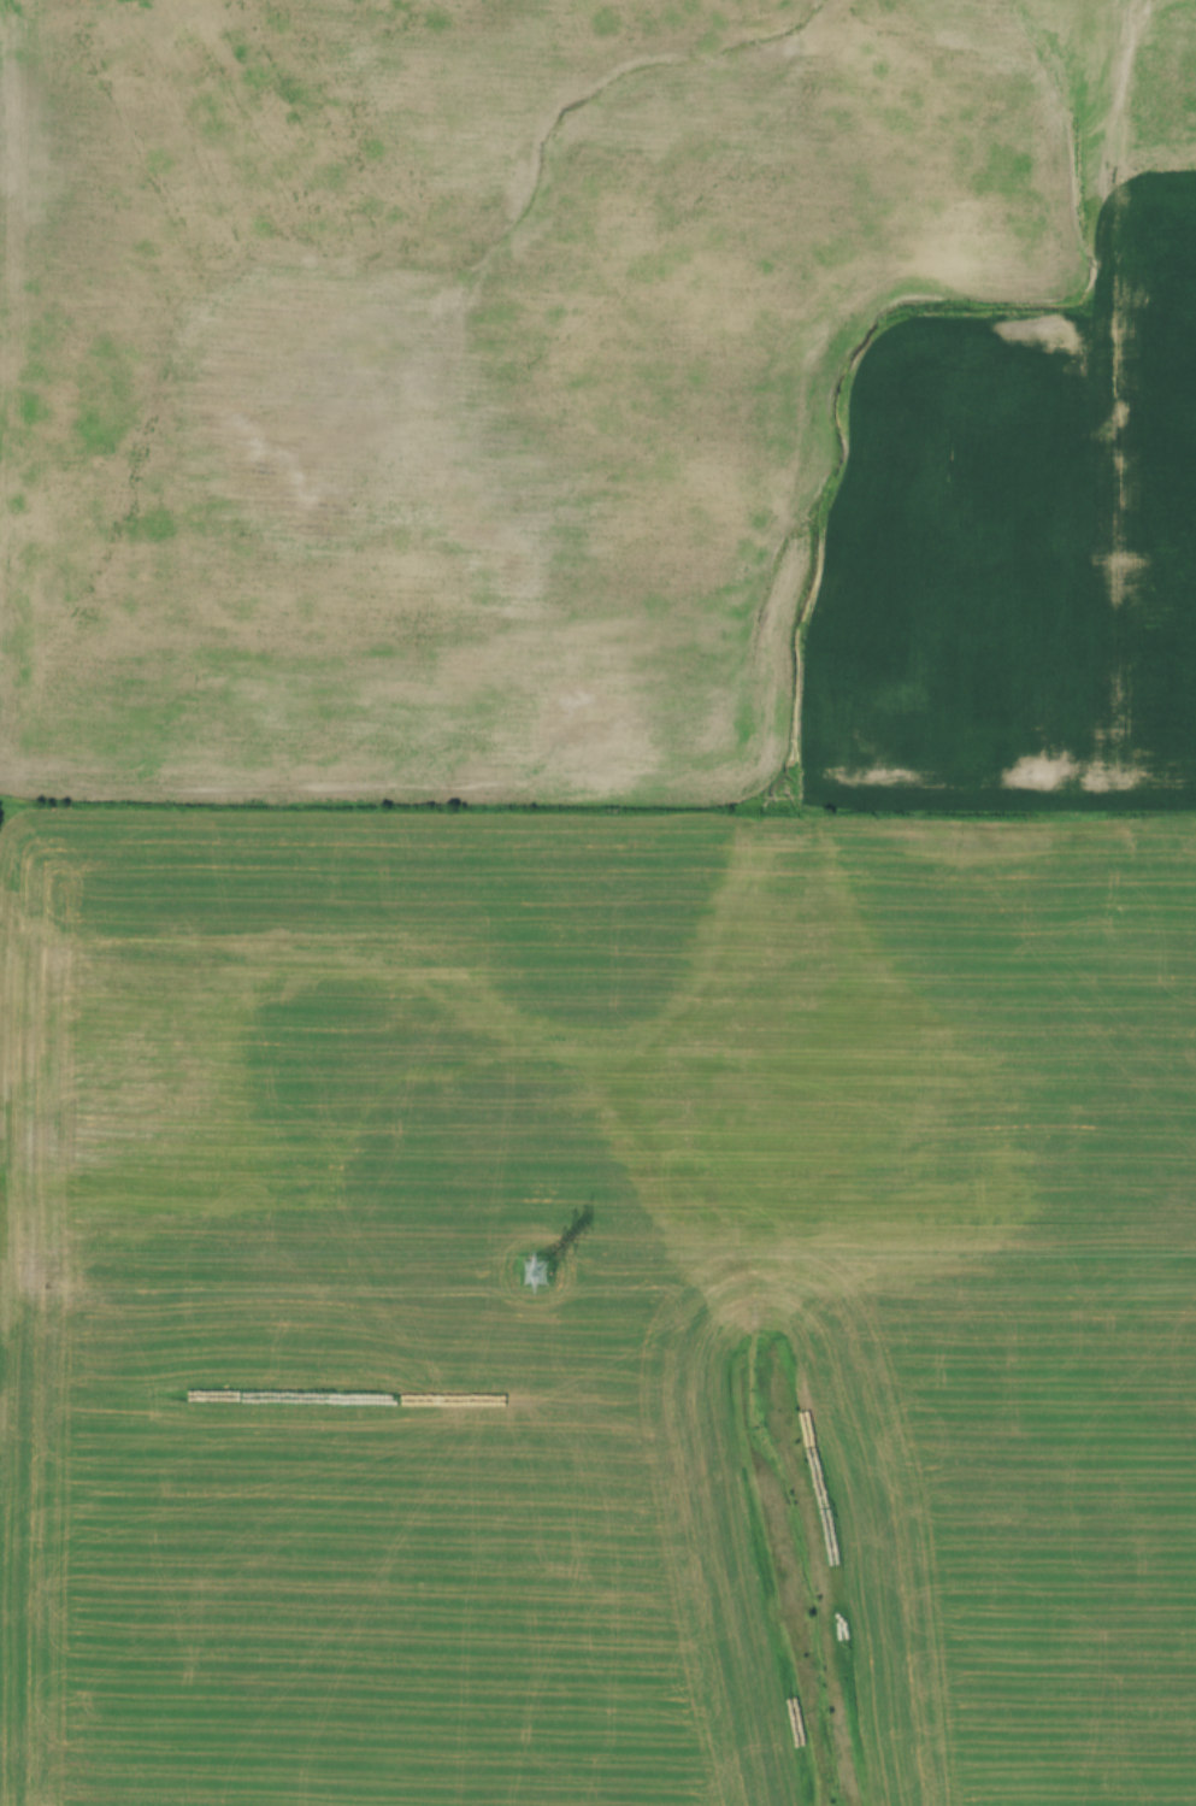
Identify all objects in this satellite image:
power tower: (540, 1273)

